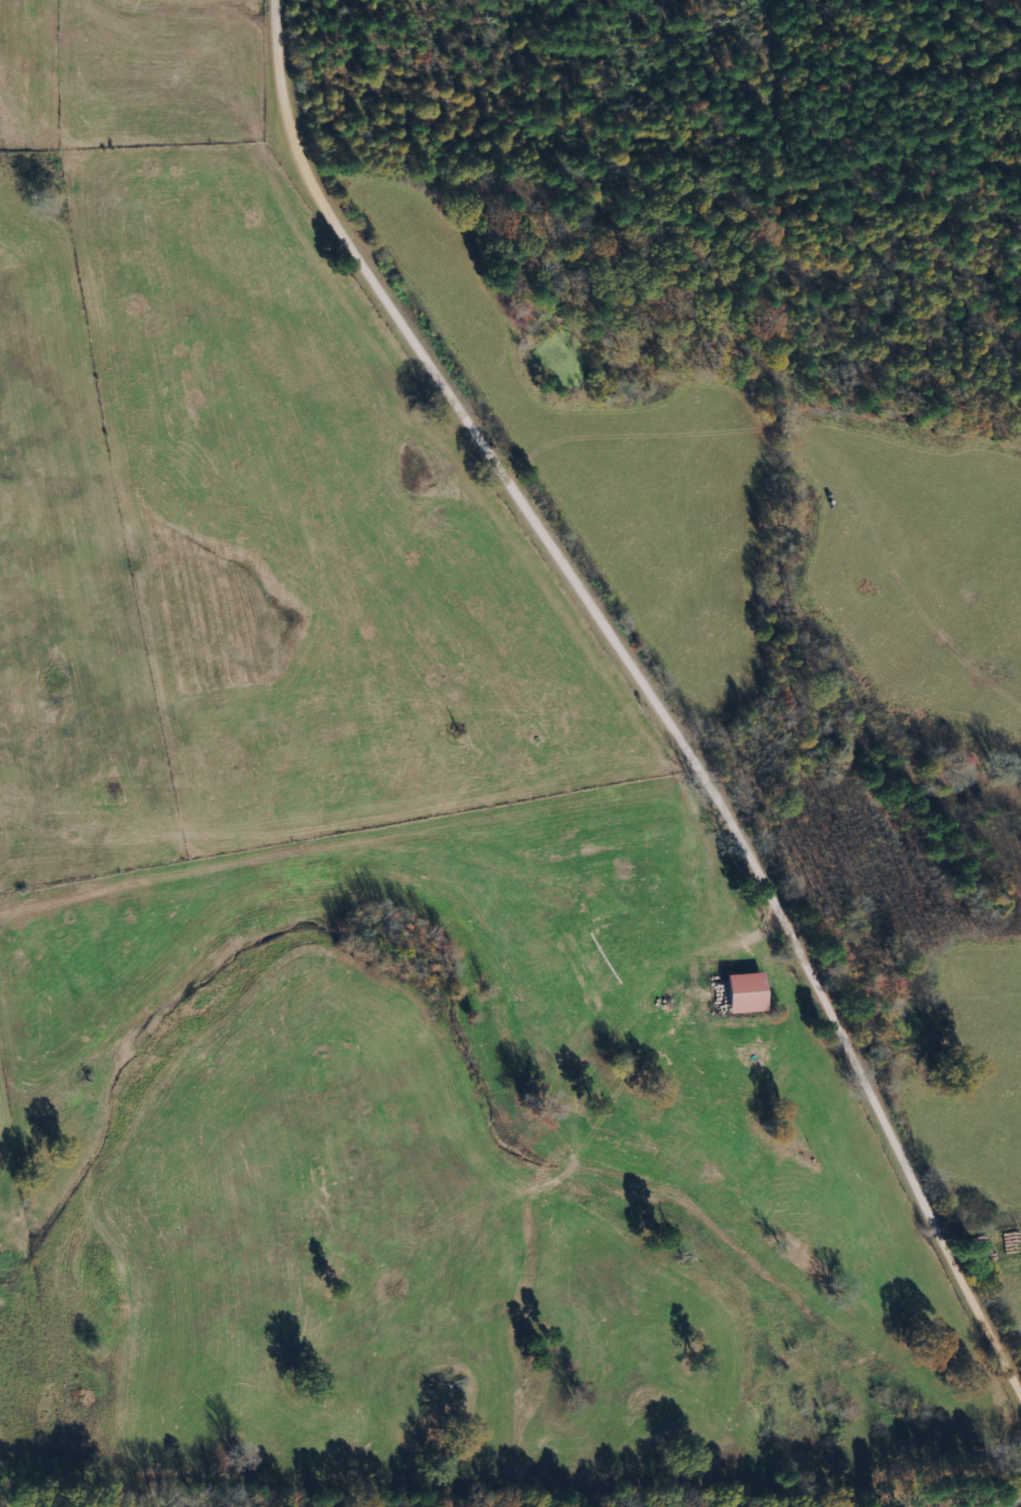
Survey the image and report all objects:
road: (652, 685)
building: (741, 992)

